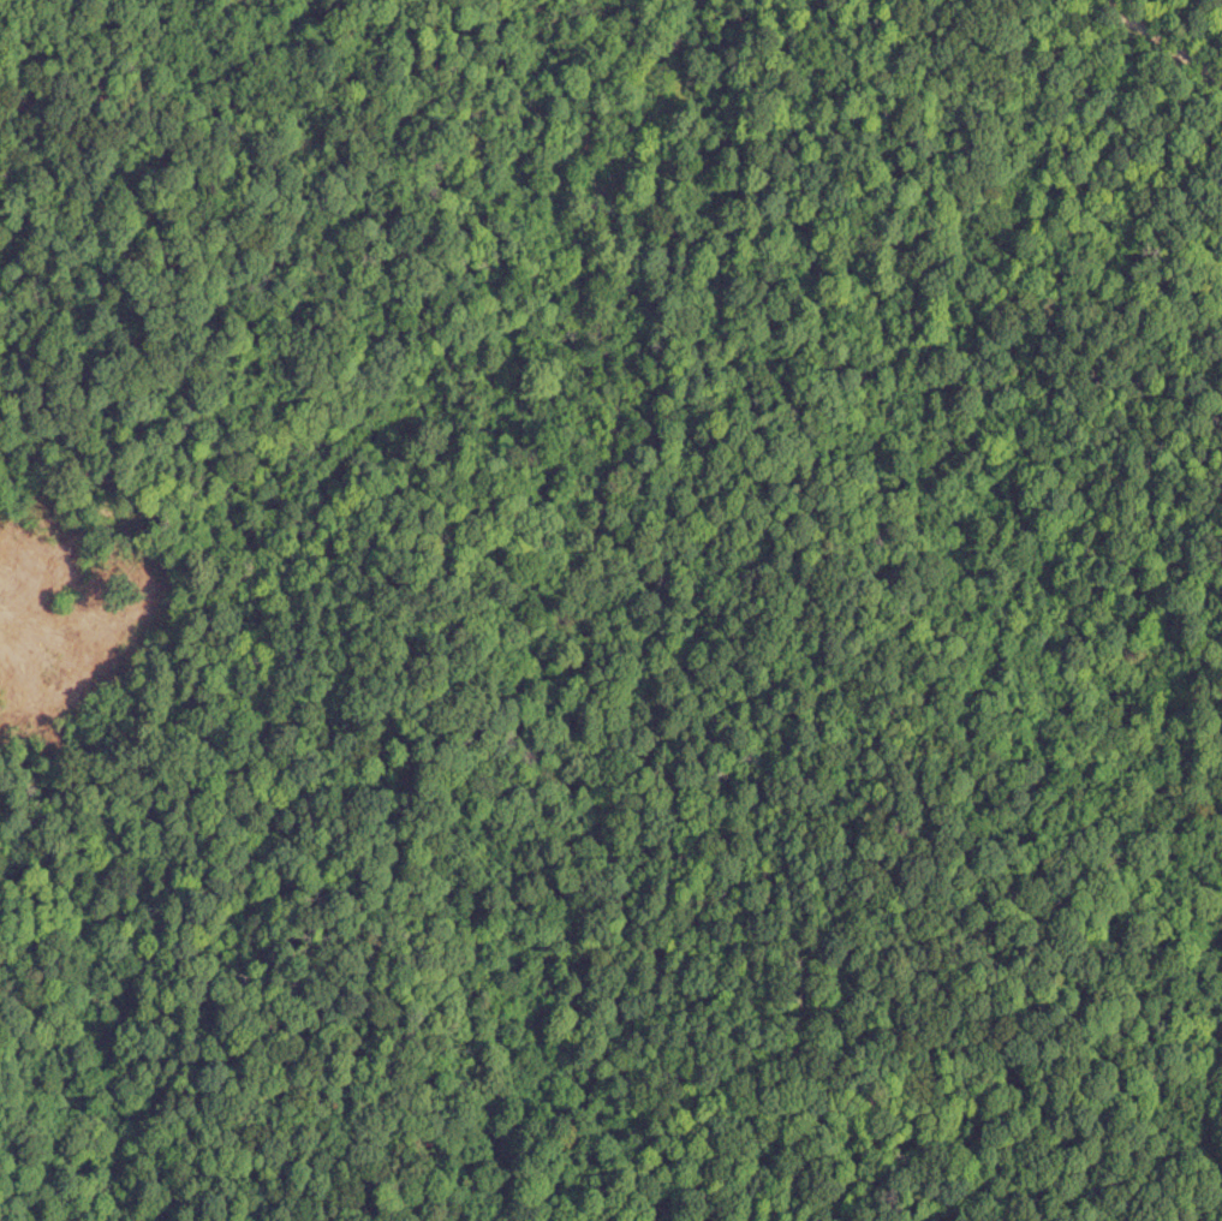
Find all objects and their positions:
road: (1156, 61)

